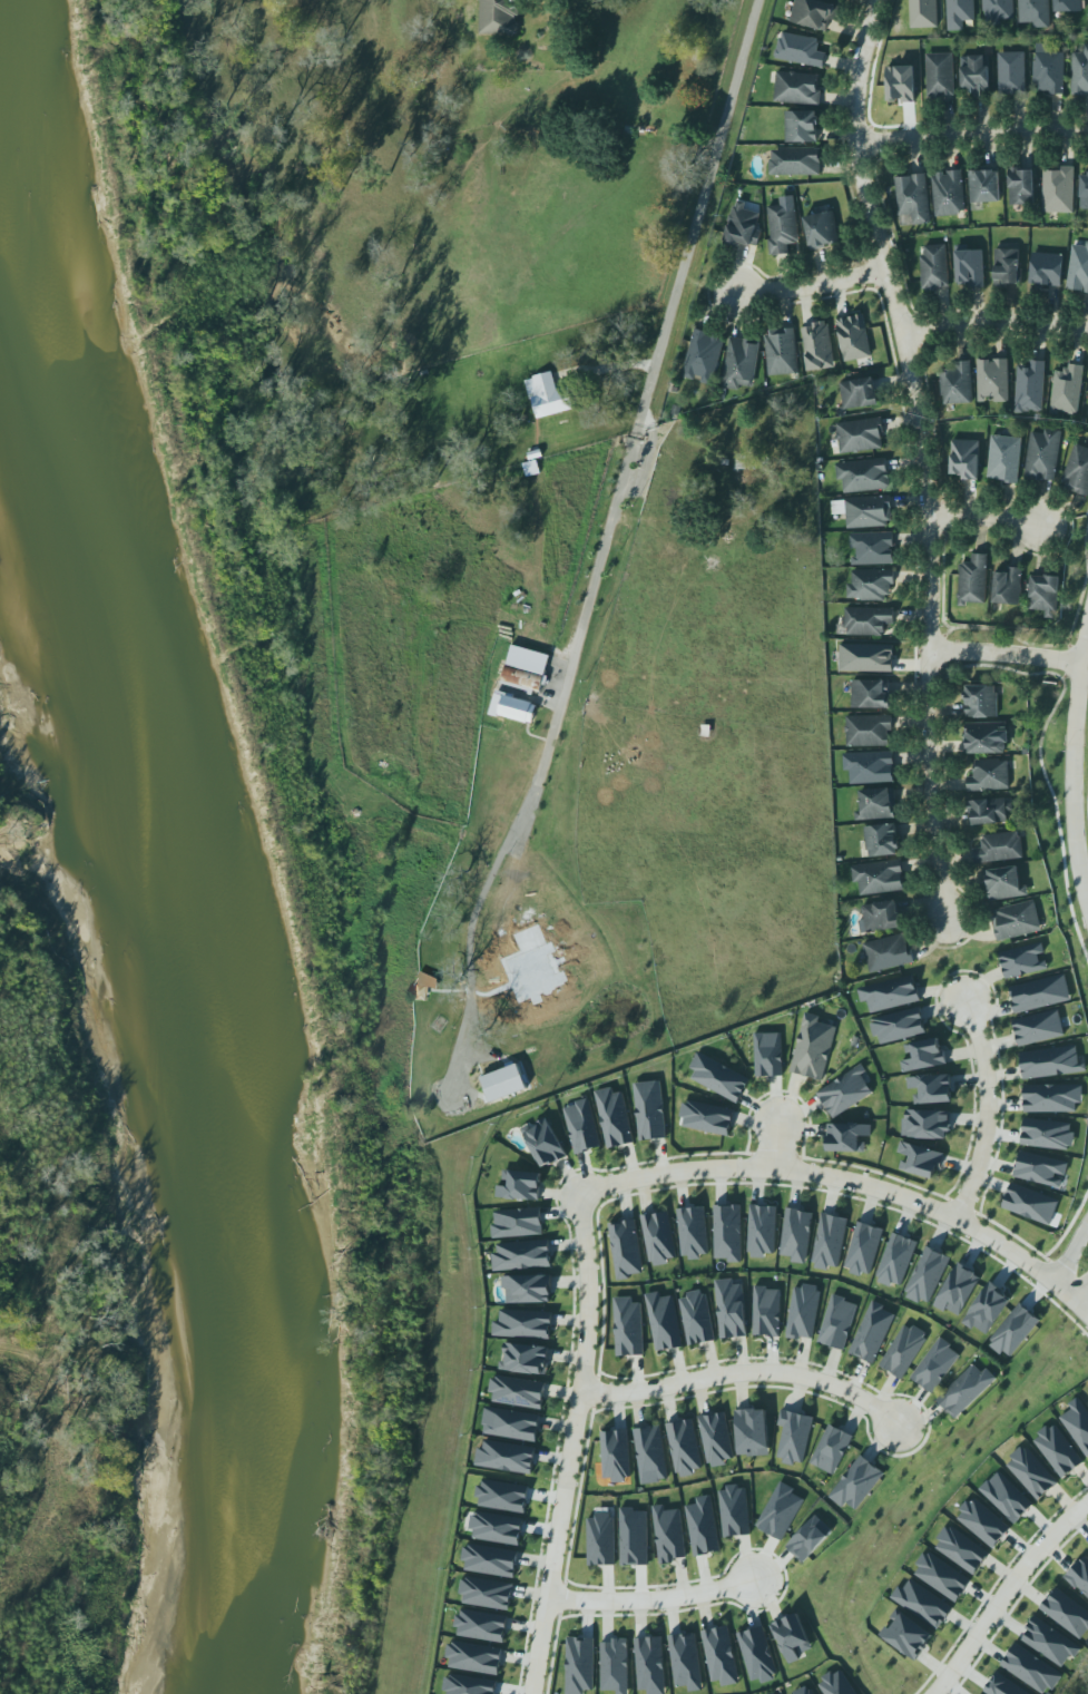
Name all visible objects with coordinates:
building: (1068, 6)
building: (997, 10)
building: (812, 12)
building: (1035, 12)
building: (923, 13)
building: (959, 13)
building: (499, 17)
building: (800, 50)
building: (1048, 70)
building: (1080, 72)
building: (1011, 74)
building: (940, 75)
building: (976, 75)
building: (901, 84)
building: (797, 88)
building: (802, 126)
road: (971, 131)
building: (796, 161)
building: (984, 186)
building: (1021, 187)
building: (1059, 189)
building: (1084, 192)
building: (948, 194)
building: (914, 198)
building: (782, 227)
building: (743, 228)
building: (822, 231)
building: (969, 266)
building: (1007, 266)
building: (934, 267)
building: (1047, 270)
building: (1078, 270)
road: (810, 290)
road: (994, 323)
building: (854, 339)
building: (819, 347)
building: (782, 352)
building: (703, 356)
building: (741, 364)
road: (611, 366)
building: (993, 380)
building: (957, 382)
building: (1030, 386)
building: (1067, 390)
building: (860, 394)
building: (548, 395)
building: (1087, 413)
building: (860, 435)
road: (638, 450)
building: (1042, 454)
road: (924, 457)
building: (1003, 459)
building: (964, 460)
building: (746, 461)
building: (1077, 471)
building: (864, 476)
building: (869, 512)
road: (988, 518)
building: (872, 549)
building: (973, 580)
building: (870, 585)
building: (1008, 586)
building: (1043, 596)
building: (869, 621)
road: (1006, 654)
building: (866, 657)
building: (870, 691)
building: (981, 697)
building: (513, 707)
building: (869, 730)
building: (984, 735)
road: (1074, 766)
building: (870, 767)
building: (989, 775)
building: (878, 801)
building: (990, 811)
building: (881, 836)
river: (179, 841)
building: (999, 846)
building: (879, 875)
building: (1004, 883)
building: (880, 917)
building: (1016, 921)
building: (888, 951)
building: (1023, 960)
building: (424, 986)
building: (1040, 991)
road: (488, 993)
building: (890, 993)
building: (899, 1026)
building: (1039, 1027)
building: (814, 1044)
building: (924, 1052)
building: (768, 1055)
building: (1051, 1063)
building: (719, 1075)
building: (930, 1088)
building: (845, 1091)
building: (1052, 1096)
road: (989, 1109)
building: (650, 1110)
building: (614, 1117)
building: (707, 1118)
building: (925, 1123)
building: (584, 1124)
building: (1047, 1134)
building: (847, 1137)
building: (545, 1143)
road: (781, 1145)
building: (921, 1156)
building: (1041, 1169)
road: (851, 1182)
building: (521, 1183)
building: (1030, 1204)
building: (518, 1222)
building: (759, 1230)
building: (728, 1231)
building: (693, 1232)
building: (794, 1233)
building: (659, 1237)
building: (830, 1241)
building: (863, 1246)
building: (625, 1247)
road: (1071, 1250)
building: (522, 1253)
building: (896, 1261)
building: (927, 1275)
building: (528, 1285)
building: (955, 1287)
road: (1084, 1294)
building: (729, 1308)
building: (987, 1310)
building: (766, 1312)
building: (803, 1312)
building: (698, 1315)
building: (664, 1320)
building: (837, 1321)
building: (525, 1322)
building: (628, 1326)
building: (871, 1331)
building: (1015, 1331)
building: (903, 1348)
building: (526, 1359)
building: (935, 1363)
road: (746, 1372)
building: (966, 1389)
building: (517, 1391)
building: (1087, 1400)
building: (511, 1423)
building: (1078, 1423)
building: (753, 1429)
building: (794, 1433)
building: (716, 1437)
road: (575, 1445)
building: (684, 1445)
building: (831, 1447)
building: (1059, 1448)
building: (649, 1452)
building: (506, 1453)
building: (615, 1456)
building: (1031, 1473)
building: (856, 1480)
building: (502, 1496)
building: (1006, 1497)
building: (734, 1509)
building: (780, 1509)
building: (983, 1522)
building: (497, 1526)
building: (703, 1527)
building: (667, 1533)
building: (633, 1535)
building: (810, 1537)
building: (600, 1540)
building: (961, 1550)
building: (491, 1558)
building: (1079, 1573)
building: (942, 1575)
building: (487, 1590)
road: (1004, 1593)
road: (653, 1600)
building: (923, 1602)
building: (1067, 1610)
building: (481, 1625)
building: (791, 1633)
building: (906, 1635)
building: (1050, 1641)
building: (719, 1654)
building: (757, 1655)
building: (474, 1657)
building: (685, 1661)
building: (579, 1665)
building: (649, 1665)
building: (615, 1666)
building: (1031, 1668)
building: (836, 1684)
building: (1006, 1684)
building: (469, 1685)
building: (807, 1691)

